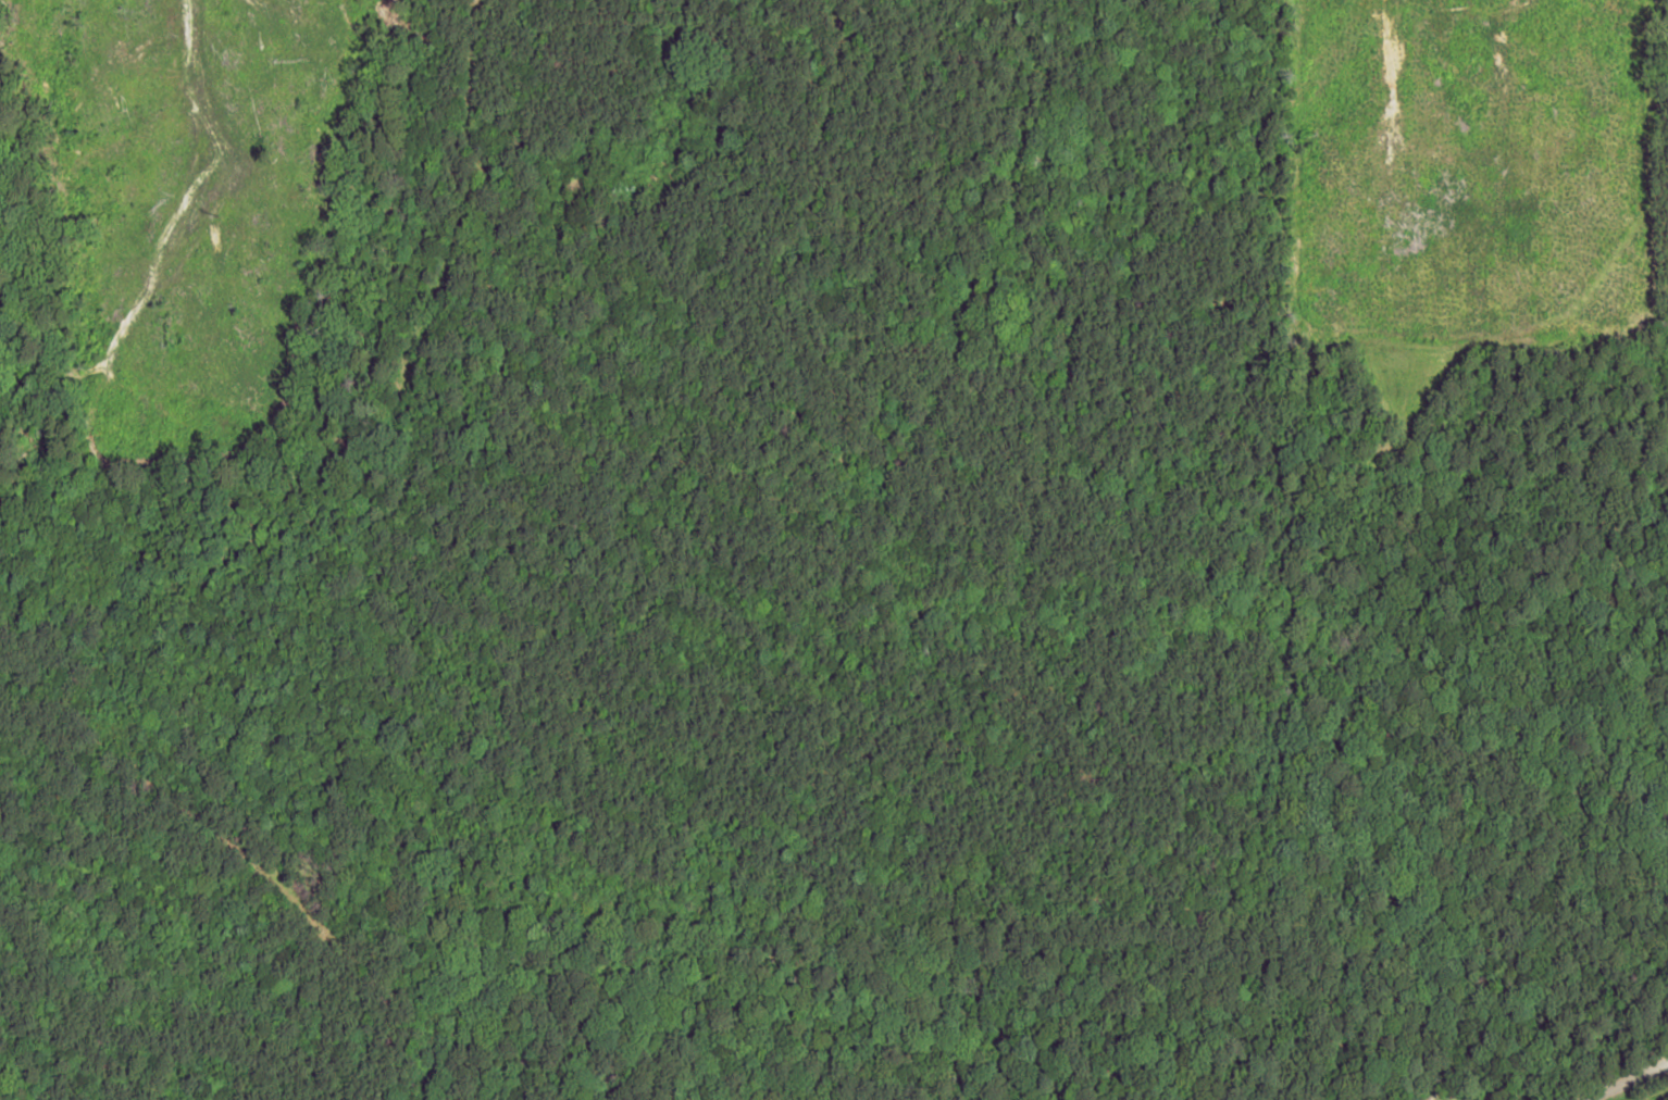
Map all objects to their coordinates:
road: (1625, 1080)

